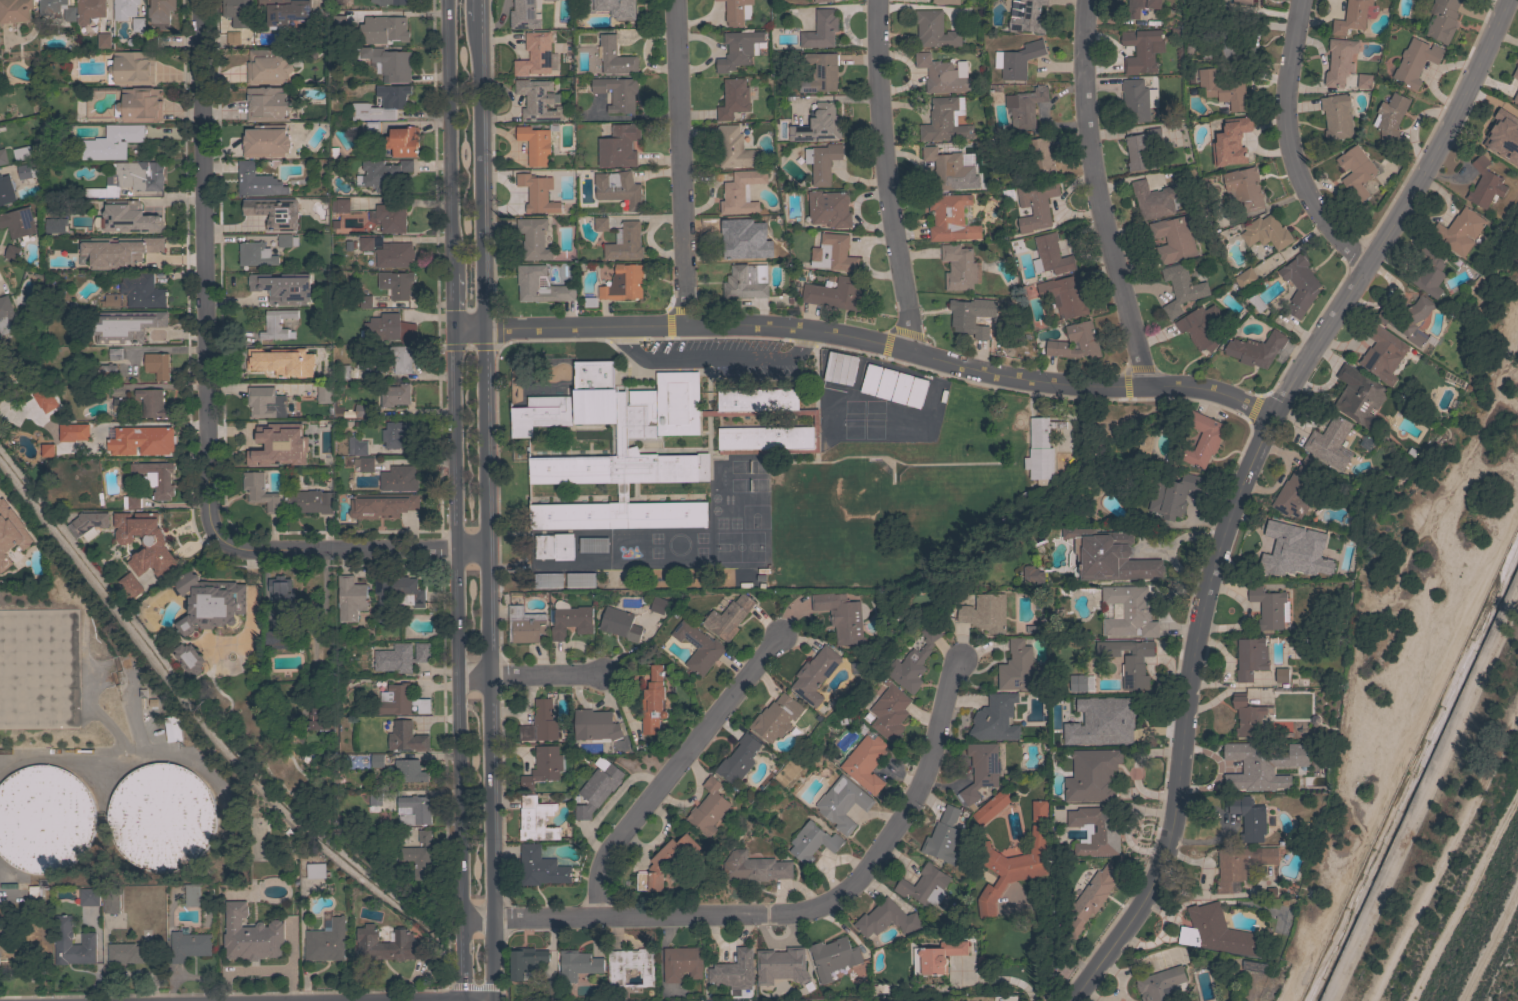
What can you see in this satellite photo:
building: (548, 0)
building: (1210, 0)
building: (820, 1)
building: (946, 1)
building: (390, 2)
building: (1242, 2)
building: (1140, 6)
building: (611, 7)
building: (125, 8)
building: (236, 8)
building: (57, 9)
building: (90, 10)
road: (477, 10)
building: (15, 11)
building: (285, 11)
building: (735, 11)
building: (160, 12)
building: (524, 15)
building: (1026, 16)
building: (1351, 17)
building: (1442, 19)
building: (138, 25)
building: (385, 29)
building: (934, 29)
building: (820, 30)
building: (233, 38)
building: (104, 40)
building: (580, 44)
building: (1228, 46)
building: (738, 49)
building: (1141, 50)
building: (535, 55)
building: (614, 57)
building: (1017, 60)
building: (1339, 61)
building: (1415, 61)
building: (387, 62)
building: (267, 67)
building: (131, 68)
building: (822, 72)
building: (1515, 73)
building: (940, 75)
building: (1364, 81)
building: (1223, 90)
building: (617, 93)
building: (1516, 97)
building: (733, 99)
building: (538, 100)
building: (1135, 100)
building: (266, 104)
building: (382, 104)
building: (513, 104)
building: (139, 105)
building: (1024, 106)
building: (1336, 117)
building: (1390, 117)
building: (945, 120)
building: (818, 125)
building: (370, 129)
building: (1502, 135)
road: (451, 136)
building: (265, 141)
building: (401, 141)
building: (112, 142)
building: (1231, 142)
building: (536, 143)
road: (1288, 143)
building: (619, 146)
building: (734, 148)
building: (22, 154)
building: (1138, 154)
building: (3, 156)
building: (1039, 158)
road: (679, 162)
building: (822, 162)
building: (950, 170)
building: (1355, 171)
building: (27, 173)
building: (384, 174)
road: (482, 175)
road: (885, 177)
building: (130, 178)
building: (257, 181)
building: (1484, 184)
building: (1244, 187)
building: (618, 188)
building: (6, 191)
building: (741, 192)
building: (538, 193)
road: (1090, 196)
building: (1153, 200)
building: (340, 205)
building: (1035, 206)
building: (829, 208)
building: (274, 212)
building: (391, 217)
building: (951, 217)
building: (127, 219)
building: (18, 223)
building: (341, 224)
building: (601, 224)
building: (55, 225)
building: (1458, 231)
building: (1266, 232)
building: (740, 237)
building: (533, 238)
building: (1173, 238)
building: (287, 240)
building: (625, 242)
building: (149, 246)
building: (12, 252)
building: (389, 253)
building: (833, 253)
building: (256, 254)
building: (1050, 255)
building: (106, 259)
building: (958, 267)
building: (1430, 272)
building: (1246, 279)
building: (527, 281)
building: (746, 282)
building: (623, 283)
building: (396, 284)
building: (1299, 285)
building: (282, 288)
building: (1181, 288)
building: (141, 290)
building: (835, 294)
building: (1064, 296)
building: (1417, 296)
building: (111, 300)
building: (365, 301)
road: (454, 302)
building: (1255, 302)
building: (6, 315)
building: (965, 319)
building: (1410, 321)
building: (277, 324)
building: (125, 325)
building: (1201, 327)
building: (388, 328)
road: (470, 331)
building: (0, 337)
building: (1075, 342)
road: (882, 347)
building: (1255, 349)
building: (114, 353)
building: (1382, 353)
building: (400, 357)
road: (711, 358)
building: (281, 361)
building: (362, 361)
building: (157, 365)
building: (105, 371)
building: (342, 371)
building: (833, 381)
building: (101, 391)
building: (323, 392)
building: (863, 392)
building: (395, 395)
building: (1359, 396)
building: (879, 397)
building: (42, 400)
building: (894, 401)
building: (151, 402)
building: (265, 402)
road: (204, 405)
building: (909, 405)
building: (118, 406)
building: (533, 427)
building: (79, 431)
building: (394, 433)
building: (754, 439)
building: (142, 440)
building: (1201, 440)
building: (1330, 442)
building: (1145, 443)
building: (292, 446)
building: (357, 446)
building: (44, 451)
building: (761, 455)
building: (1033, 462)
building: (364, 464)
building: (156, 478)
building: (399, 479)
road: (1240, 484)
building: (1295, 490)
building: (260, 491)
building: (1172, 495)
building: (307, 501)
building: (131, 502)
building: (381, 505)
park: (890, 513)
building: (10, 517)
building: (90, 521)
building: (144, 542)
building: (1286, 542)
building: (1108, 555)
building: (586, 558)
building: (547, 560)
building: (1324, 567)
building: (21, 572)
building: (1032, 575)
building: (130, 585)
building: (401, 589)
building: (573, 593)
building: (540, 594)
building: (280, 595)
building: (350, 598)
building: (209, 603)
building: (1269, 607)
building: (1128, 611)
building: (984, 612)
building: (719, 621)
road: (317, 622)
building: (561, 624)
building: (1037, 626)
building: (610, 627)
building: (515, 629)
building: (834, 631)
building: (278, 638)
building: (1107, 648)
building: (689, 651)
building: (401, 657)
building: (188, 658)
building: (1250, 658)
road: (486, 665)
building: (905, 665)
road: (458, 667)
building: (1017, 667)
building: (1136, 667)
building: (1281, 675)
road: (532, 676)
building: (1077, 683)
building: (807, 688)
building: (400, 700)
building: (644, 712)
building: (1247, 716)
building: (880, 717)
building: (1119, 717)
building: (995, 718)
building: (320, 722)
building: (173, 728)
building: (766, 731)
building: (531, 733)
building: (586, 735)
building: (406, 737)
building: (1086, 739)
road: (1402, 754)
building: (376, 761)
building: (1262, 765)
building: (856, 766)
building: (539, 768)
building: (728, 768)
building: (980, 770)
building: (409, 771)
road: (668, 771)
building: (1092, 776)
building: (533, 780)
road: (1421, 791)
building: (375, 798)
building: (587, 802)
building: (833, 807)
building: (991, 807)
building: (414, 810)
building: (1038, 810)
building: (699, 812)
building: (161, 817)
storage tank: (161, 817)
building: (44, 819)
storage tank: (44, 819)
building: (1249, 819)
building: (1107, 829)
building: (526, 833)
building: (942, 837)
road: (1200, 845)
building: (802, 846)
building: (369, 853)
road: (1445, 854)
building: (420, 856)
building: (1240, 864)
building: (658, 866)
building: (540, 867)
building: (1010, 868)
building: (316, 871)
building: (749, 871)
building: (530, 881)
building: (924, 886)
road: (1463, 892)
building: (33, 894)
building: (191, 895)
building: (89, 897)
building: (1092, 897)
building: (111, 901)
road: (787, 912)
building: (885, 919)
building: (1217, 932)
building: (250, 935)
building: (62, 941)
building: (326, 941)
road: (1491, 943)
building: (390, 944)
building: (189, 945)
road: (1045, 948)
building: (127, 953)
building: (939, 956)
building: (833, 957)
building: (525, 962)
building: (682, 963)
building: (577, 964)
building: (631, 966)
building: (780, 966)
building: (1253, 966)
building: (734, 971)
road: (1003, 978)
building: (1160, 984)
building: (548, 989)

